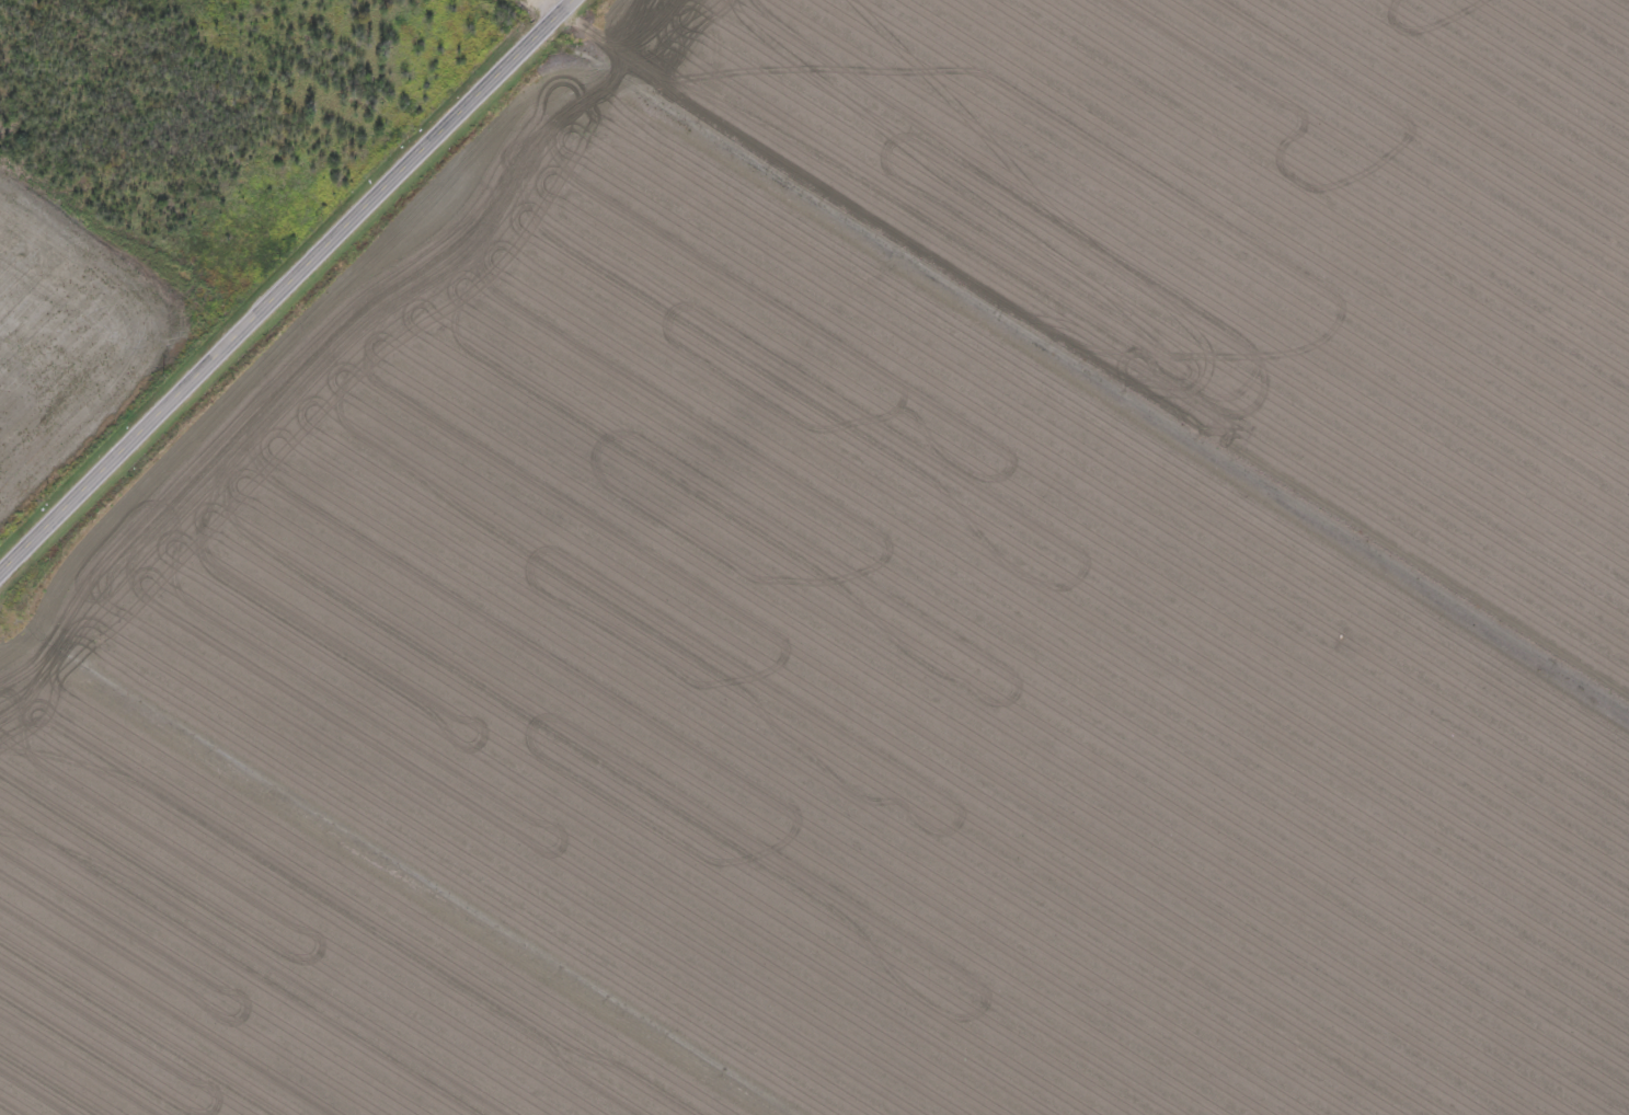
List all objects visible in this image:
road: (549, 7)
road: (286, 287)

